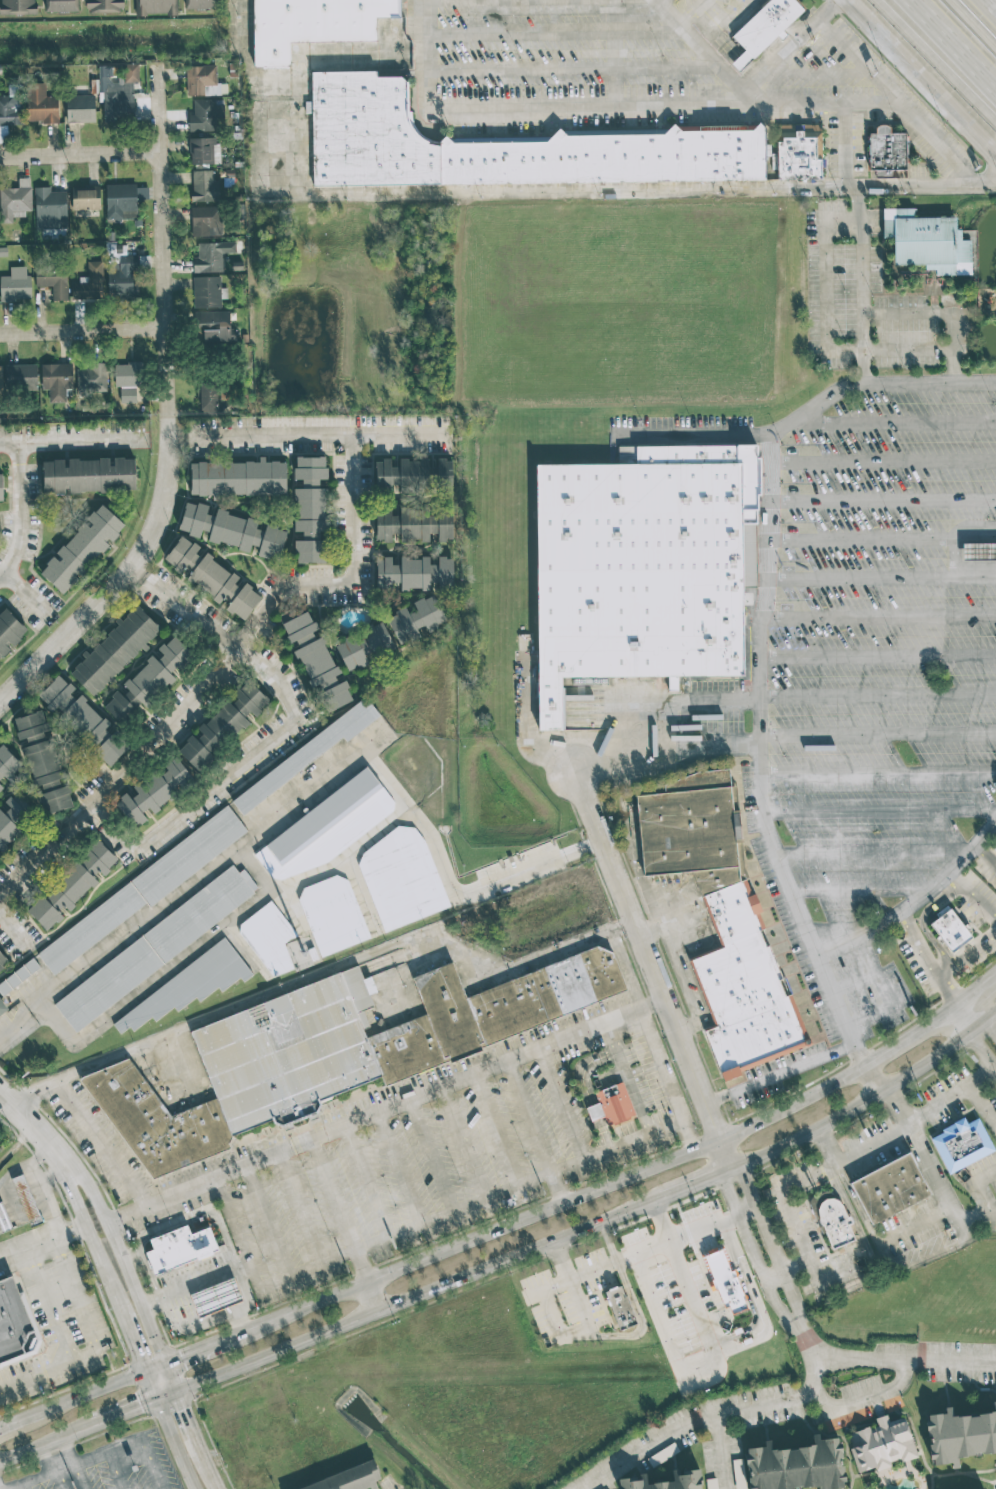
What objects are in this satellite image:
road: (995, 0)
building: (199, 4)
building: (60, 5)
building: (104, 5)
building: (17, 6)
building: (156, 7)
road: (688, 15)
parking lot: (716, 16)
building: (319, 27)
road: (719, 29)
road: (968, 29)
building: (766, 31)
road: (557, 32)
road: (789, 46)
road: (945, 52)
road: (707, 53)
parking lot: (563, 54)
road: (932, 60)
road: (574, 68)
parking lot: (837, 69)
road: (815, 71)
road: (923, 78)
building: (203, 81)
building: (119, 94)
road: (896, 102)
building: (41, 104)
building: (140, 104)
road: (159, 108)
building: (80, 109)
road: (611, 109)
building: (10, 110)
building: (205, 114)
building: (3, 134)
road: (844, 145)
building: (499, 148)
building: (204, 151)
building: (800, 153)
road: (80, 154)
building: (888, 157)
building: (204, 186)
road: (526, 191)
building: (85, 199)
building: (15, 200)
building: (124, 201)
building: (50, 209)
building: (206, 221)
building: (933, 246)
building: (211, 256)
building: (124, 275)
building: (52, 280)
building: (89, 283)
road: (825, 284)
building: (15, 285)
road: (859, 285)
building: (208, 292)
parking lot: (873, 303)
road: (940, 314)
building: (210, 325)
road: (83, 330)
road: (907, 350)
building: (20, 375)
building: (1, 378)
building: (91, 378)
building: (57, 380)
building: (128, 380)
building: (208, 396)
road: (169, 406)
road: (901, 421)
road: (303, 431)
road: (73, 438)
road: (699, 439)
road: (880, 462)
building: (88, 475)
building: (411, 476)
building: (238, 478)
building: (1, 488)
road: (880, 500)
building: (309, 508)
road: (14, 511)
building: (413, 524)
building: (232, 530)
road: (880, 539)
building: (82, 549)
building: (978, 552)
road: (954, 555)
road: (764, 567)
building: (640, 569)
road: (138, 571)
building: (413, 573)
road: (879, 575)
building: (212, 578)
road: (27, 592)
road: (188, 609)
road: (880, 616)
building: (416, 619)
building: (9, 631)
building: (363, 646)
building: (114, 650)
road: (879, 656)
building: (316, 660)
parking lot: (884, 661)
road: (36, 666)
building: (158, 672)
road: (286, 675)
road: (879, 695)
building: (248, 700)
building: (119, 708)
road: (762, 717)
building: (84, 720)
building: (211, 736)
road: (878, 736)
road: (761, 748)
building: (306, 754)
road: (140, 758)
building: (43, 762)
building: (7, 765)
road: (880, 776)
building: (152, 793)
road: (306, 794)
road: (881, 812)
building: (12, 819)
building: (324, 829)
road: (986, 830)
building: (993, 846)
road: (875, 851)
road: (255, 867)
building: (402, 878)
building: (73, 886)
building: (143, 889)
road: (862, 889)
road: (972, 895)
road: (907, 907)
building: (333, 914)
road: (922, 919)
building: (730, 924)
road: (13, 929)
road: (217, 929)
building: (950, 933)
road: (861, 934)
building: (269, 937)
building: (155, 947)
road: (383, 951)
road: (966, 952)
road: (649, 958)
building: (2, 960)
building: (18, 976)
building: (187, 986)
road: (882, 991)
road: (977, 995)
building: (2, 1008)
road: (971, 1015)
road: (965, 1019)
road: (990, 1028)
road: (983, 1048)
building: (337, 1052)
road: (781, 1072)
road: (77, 1075)
road: (629, 1076)
road: (875, 1079)
road: (586, 1090)
road: (862, 1101)
road: (560, 1104)
building: (614, 1104)
road: (982, 1104)
road: (385, 1106)
building: (594, 1112)
road: (530, 1116)
road: (917, 1118)
road: (36, 1128)
road: (497, 1129)
road: (690, 1136)
road: (462, 1143)
building: (961, 1143)
road: (105, 1144)
road: (826, 1145)
road: (729, 1153)
road: (430, 1155)
road: (720, 1157)
parking lot: (457, 1164)
road: (399, 1167)
road: (932, 1171)
road: (364, 1173)
road: (387, 1184)
road: (691, 1184)
road: (607, 1185)
road: (977, 1185)
road: (557, 1188)
building: (889, 1188)
road: (332, 1194)
road: (44, 1199)
road: (857, 1205)
road: (470, 1206)
road: (300, 1207)
road: (787, 1209)
building: (30, 1210)
road: (190, 1219)
road: (266, 1221)
building: (834, 1222)
road: (712, 1224)
road: (917, 1224)
road: (742, 1227)
road: (661, 1241)
road: (770, 1241)
road: (610, 1242)
road: (28, 1247)
building: (180, 1248)
road: (563, 1259)
road: (125, 1263)
road: (363, 1268)
road: (594, 1270)
road: (106, 1272)
building: (728, 1278)
road: (775, 1279)
road: (195, 1282)
road: (421, 1292)
building: (215, 1297)
road: (375, 1297)
road: (246, 1301)
road: (777, 1304)
building: (619, 1307)
road: (80, 1308)
road: (639, 1321)
building: (14, 1324)
road: (802, 1329)
road: (665, 1332)
road: (798, 1332)
road: (60, 1336)
road: (559, 1336)
road: (735, 1336)
road: (205, 1349)
road: (859, 1358)
traffic signals: (168, 1364)
road: (819, 1364)
road: (947, 1364)
road: (158, 1368)
traffic signals: (148, 1373)
road: (174, 1378)
road: (154, 1386)
road: (93, 1391)
traffic signals: (180, 1392)
road: (170, 1396)
traffic signals: (160, 1400)
road: (863, 1401)
road: (126, 1413)
road: (20, 1418)
road: (689, 1424)
road: (192, 1427)
building: (960, 1435)
road: (45, 1443)
road: (176, 1444)
building: (881, 1444)
road: (143, 1448)
road: (58, 1453)
road: (721, 1453)
building: (662, 1454)
building: (795, 1466)
road: (56, 1468)
parking lot: (109, 1469)
road: (115, 1469)
building: (738, 1474)
road: (211, 1475)
road: (69, 1477)
building: (348, 1479)
building: (665, 1481)
road: (22, 1486)

